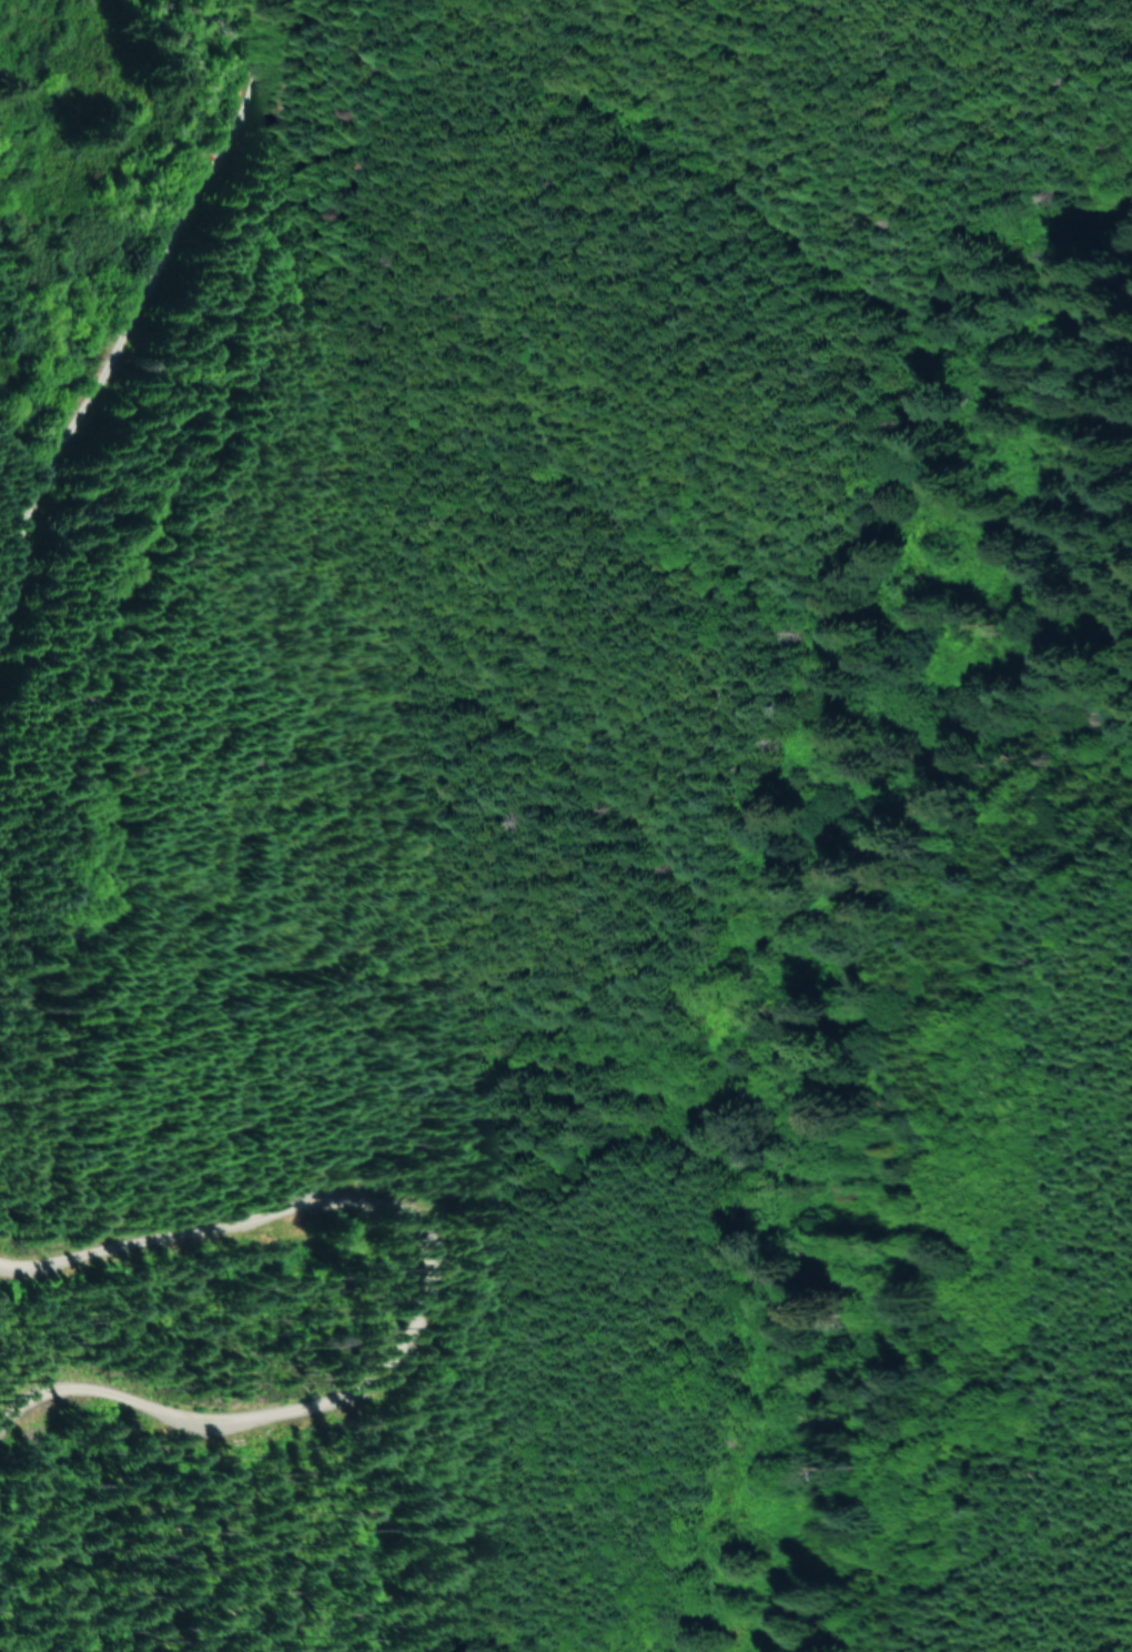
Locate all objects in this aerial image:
road: (130, 315)
road: (406, 1292)

